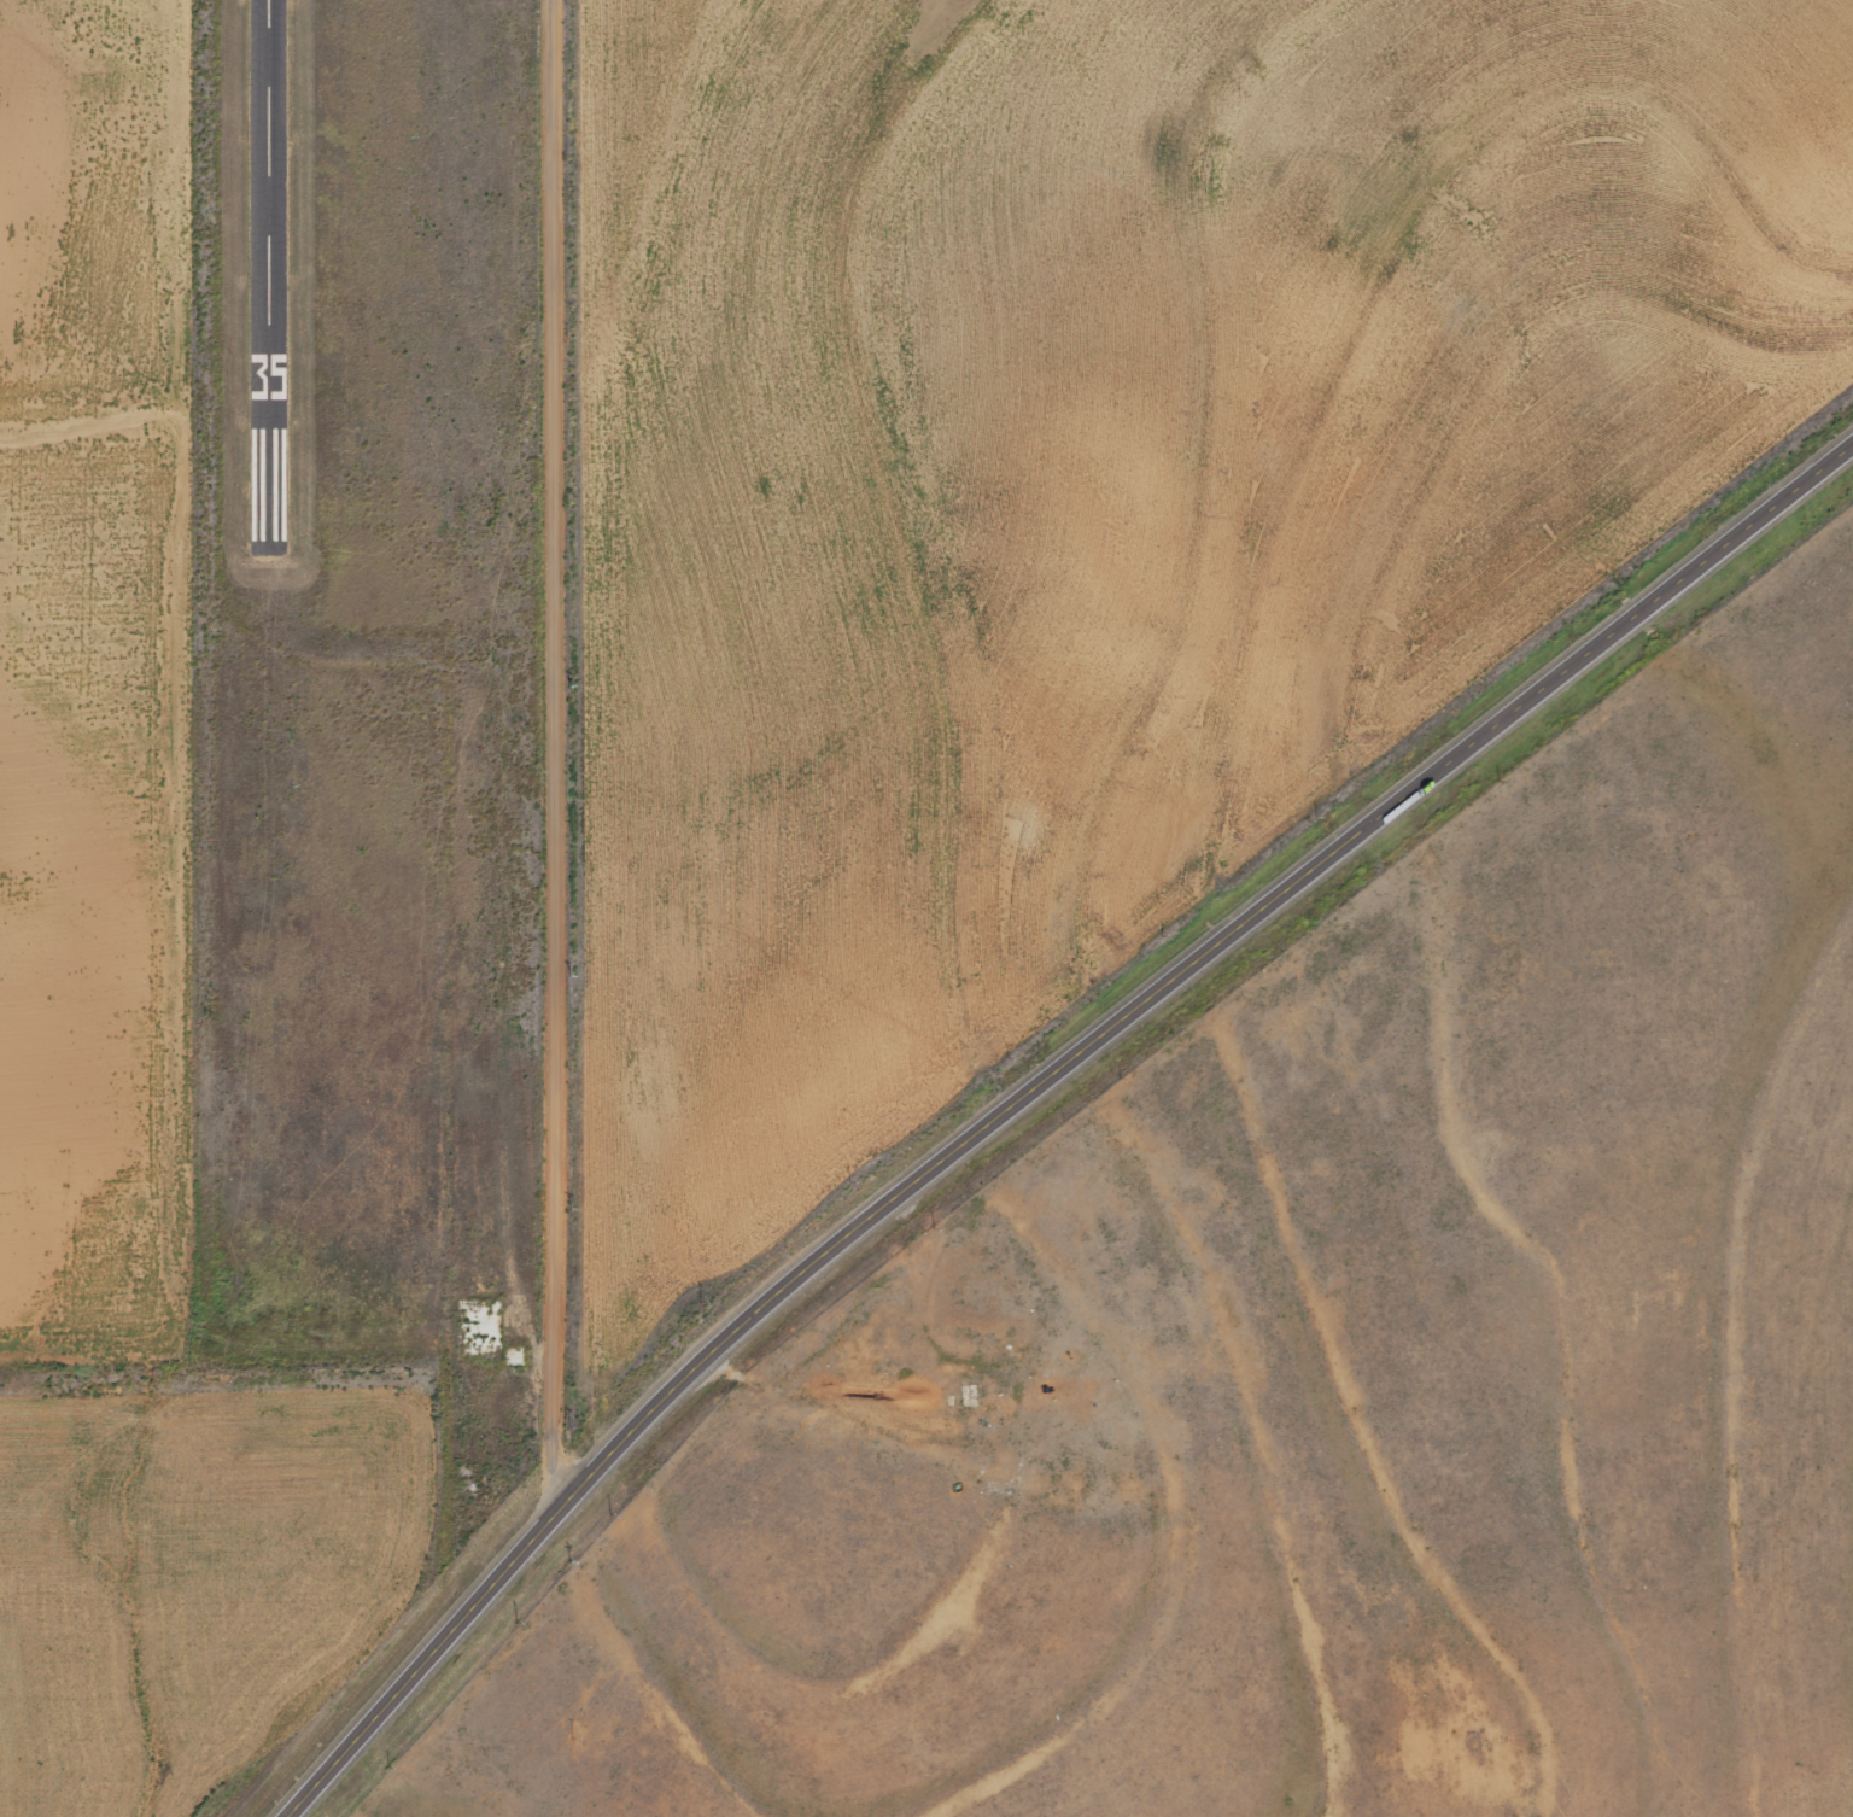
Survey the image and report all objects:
airport runway: (276, 265)
road: (551, 759)
road: (1033, 1088)

